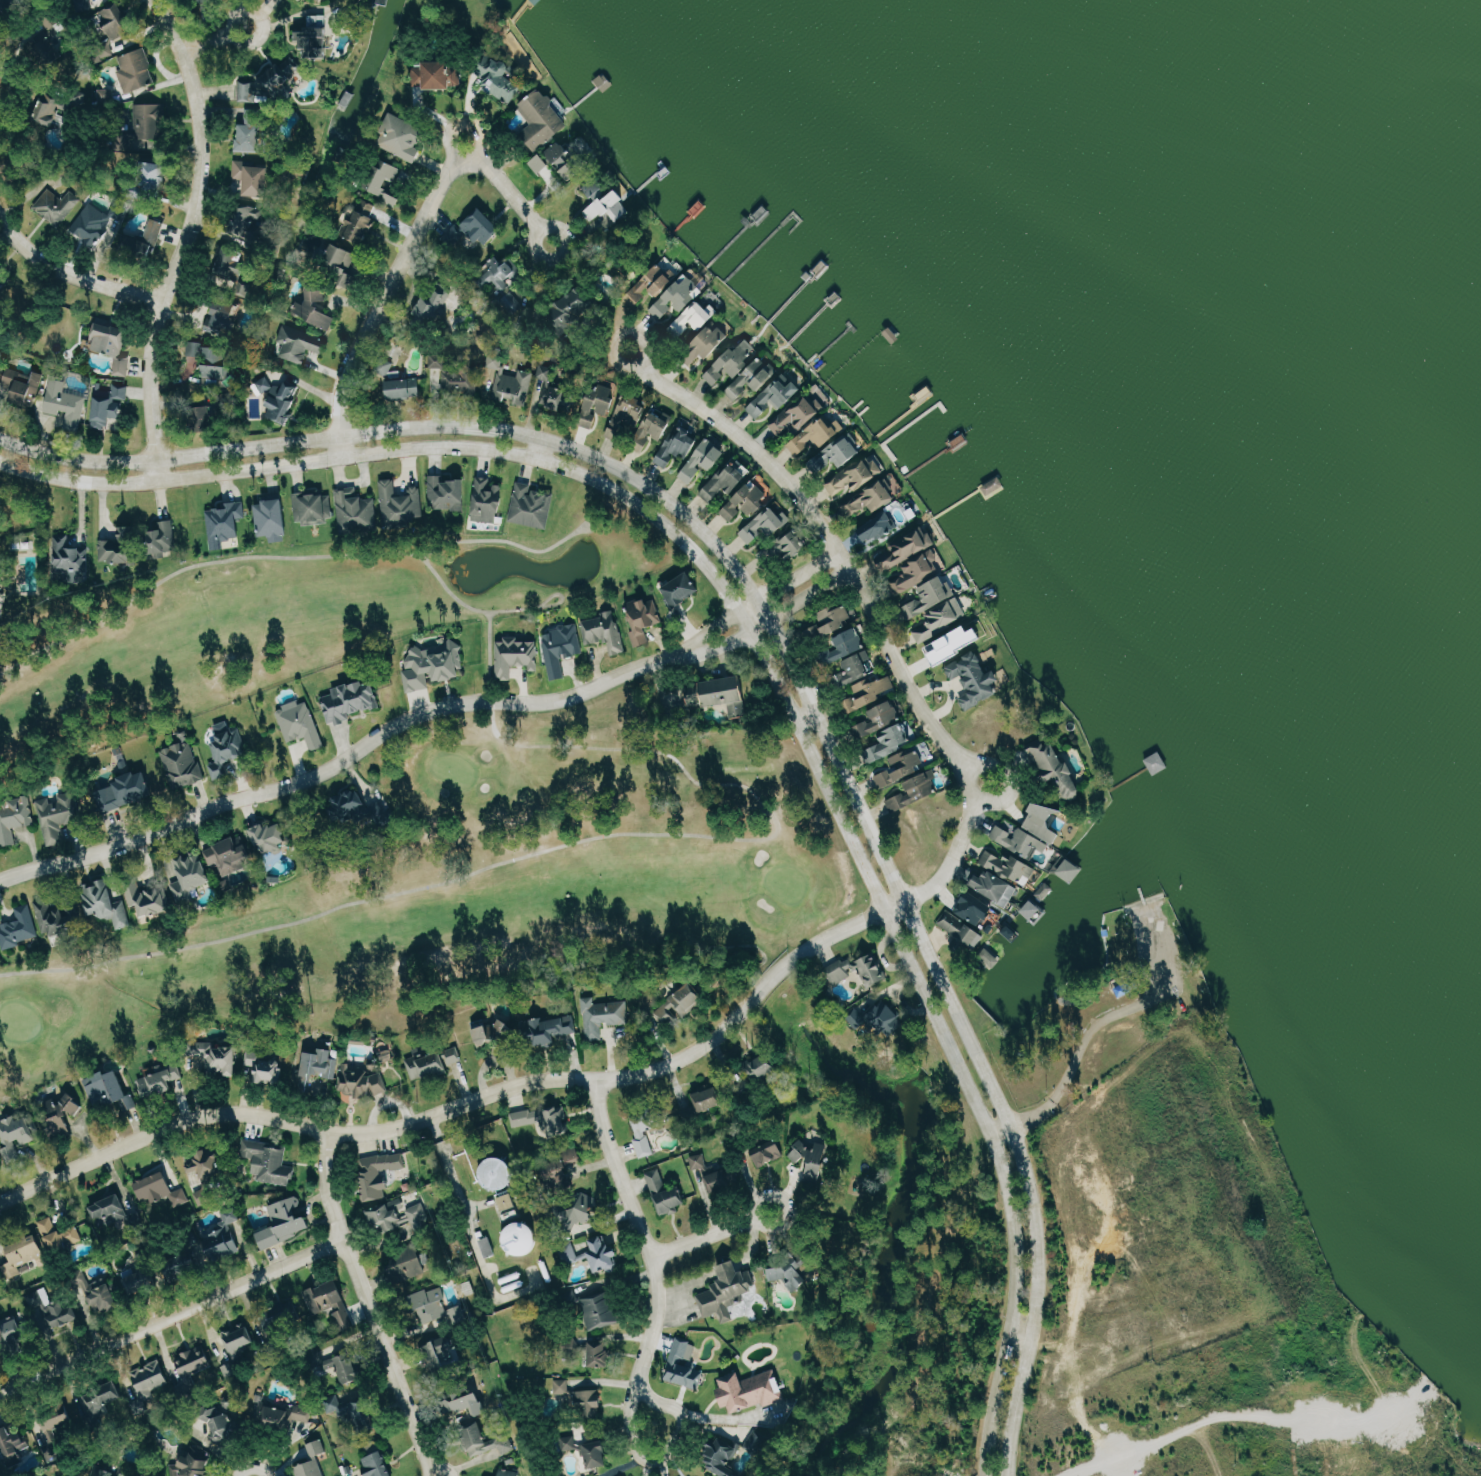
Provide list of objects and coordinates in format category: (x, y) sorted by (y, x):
building: (323, 0)
building: (84, 6)
building: (117, 21)
building: (316, 37)
road: (213, 42)
building: (49, 49)
building: (135, 71)
building: (438, 75)
building: (499, 77)
building: (281, 79)
building: (248, 92)
road: (11, 95)
building: (351, 101)
building: (53, 111)
building: (542, 120)
building: (144, 129)
building: (253, 132)
building: (402, 137)
building: (540, 163)
building: (156, 175)
building: (252, 178)
building: (389, 183)
building: (58, 205)
building: (250, 222)
building: (361, 222)
road: (430, 223)
building: (92, 224)
road: (192, 227)
building: (482, 227)
building: (145, 241)
building: (340, 260)
building: (231, 266)
road: (70, 269)
building: (502, 282)
building: (655, 283)
building: (679, 297)
building: (435, 303)
building: (315, 308)
building: (570, 309)
building: (222, 316)
building: (693, 319)
building: (711, 342)
building: (300, 344)
building: (113, 346)
building: (214, 361)
building: (390, 371)
building: (453, 375)
building: (25, 386)
building: (405, 388)
building: (554, 392)
building: (776, 395)
building: (279, 399)
building: (66, 403)
building: (109, 405)
building: (599, 405)
building: (798, 416)
building: (206, 418)
building: (627, 419)
building: (657, 425)
building: (817, 437)
road: (347, 445)
building: (678, 447)
building: (836, 455)
building: (703, 460)
road: (163, 469)
building: (860, 474)
building: (729, 480)
building: (447, 493)
building: (871, 497)
building: (487, 501)
building: (747, 501)
building: (401, 504)
building: (532, 506)
building: (314, 508)
building: (356, 512)
building: (272, 518)
building: (225, 523)
building: (764, 527)
building: (879, 528)
building: (162, 539)
building: (793, 546)
building: (908, 547)
building: (121, 551)
building: (70, 557)
building: (919, 569)
road: (837, 575)
road: (820, 587)
building: (0, 590)
building: (682, 590)
building: (930, 598)
building: (941, 619)
building: (644, 620)
road: (871, 621)
building: (832, 623)
building: (604, 631)
building: (956, 644)
building: (846, 647)
building: (561, 648)
road: (794, 648)
building: (516, 656)
road: (777, 660)
building: (433, 665)
building: (858, 668)
building: (976, 679)
building: (726, 691)
building: (695, 696)
building: (351, 701)
building: (737, 710)
building: (882, 720)
building: (301, 725)
road: (404, 729)
building: (227, 751)
building: (182, 765)
building: (903, 769)
building: (1057, 769)
building: (124, 793)
building: (915, 793)
building: (58, 817)
building: (14, 821)
building: (1046, 823)
building: (271, 838)
building: (1019, 839)
building: (230, 856)
building: (1010, 863)
building: (1071, 870)
building: (192, 872)
building: (995, 887)
building: (156, 901)
building: (108, 904)
building: (976, 908)
building: (1033, 910)
building: (56, 918)
building: (19, 928)
building: (962, 928)
building: (989, 957)
building: (860, 970)
building: (680, 1004)
building: (603, 1015)
building: (884, 1017)
building: (549, 1029)
building: (494, 1032)
building: (219, 1056)
building: (432, 1062)
building: (763, 1065)
building: (265, 1067)
building: (316, 1068)
building: (161, 1081)
building: (110, 1090)
building: (709, 1098)
road: (471, 1099)
building: (63, 1115)
building: (530, 1117)
building: (559, 1120)
building: (646, 1131)
building: (17, 1139)
building: (770, 1154)
building: (813, 1160)
building: (269, 1161)
building: (698, 1161)
building: (565, 1162)
building: (499, 1172)
building: (206, 1173)
building: (382, 1173)
building: (722, 1180)
building: (564, 1182)
building: (160, 1189)
building: (666, 1193)
building: (110, 1211)
building: (580, 1212)
building: (401, 1216)
building: (286, 1222)
road: (468, 1226)
road: (711, 1234)
building: (59, 1235)
building: (224, 1237)
building: (488, 1246)
road: (656, 1253)
building: (594, 1254)
building: (23, 1256)
building: (407, 1264)
building: (792, 1270)
road: (369, 1287)
building: (99, 1289)
building: (727, 1290)
building: (431, 1304)
building: (331, 1305)
building: (53, 1308)
building: (600, 1310)
road: (176, 1318)
building: (12, 1330)
building: (238, 1336)
building: (599, 1353)
building: (442, 1354)
building: (193, 1362)
building: (684, 1364)
building: (339, 1365)
building: (153, 1379)
building: (751, 1390)
building: (104, 1397)
building: (579, 1398)
building: (470, 1403)
building: (360, 1414)
building: (285, 1415)
building: (224, 1421)
building: (63, 1430)
building: (12, 1441)
building: (485, 1441)
building: (567, 1443)
building: (317, 1448)
building: (597, 1454)
building: (723, 1457)
road: (434, 1459)
building: (373, 1465)
building: (188, 1466)
building: (307, 1469)
building: (110, 1472)
building: (506, 1473)

